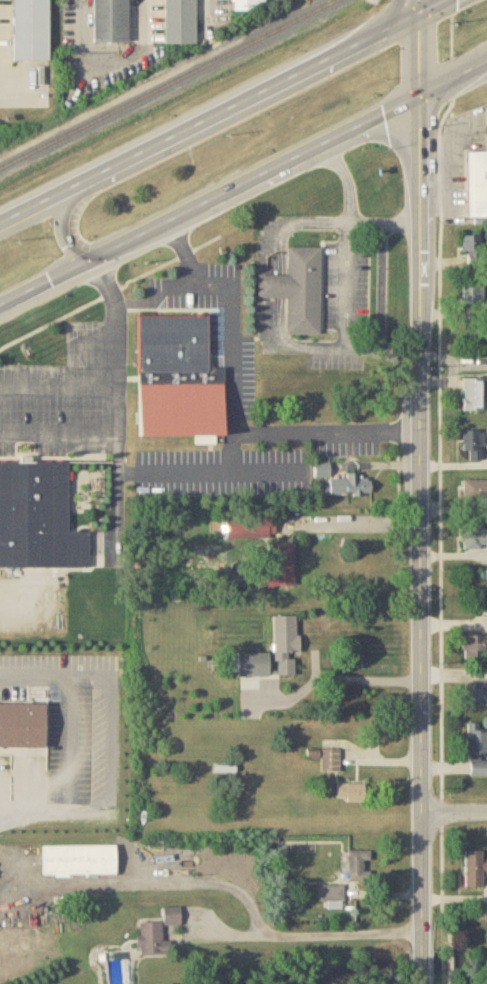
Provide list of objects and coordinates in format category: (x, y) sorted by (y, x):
road: (215, 2)
building: (236, 2)
road: (418, 6)
road: (430, 6)
parking lot: (220, 8)
traffic signals: (418, 12)
building: (178, 14)
road: (86, 16)
building: (111, 16)
road: (145, 16)
building: (32, 26)
road: (417, 52)
parking lot: (23, 68)
road: (452, 75)
road: (20, 78)
railway: (167, 83)
traffic signals: (417, 93)
road: (209, 116)
road: (347, 177)
building: (477, 185)
road: (208, 197)
road: (73, 204)
road: (403, 211)
road: (305, 217)
road: (183, 248)
building: (472, 249)
parking lot: (199, 282)
building: (294, 283)
parking lot: (348, 283)
road: (112, 290)
building: (473, 294)
road: (348, 345)
parking lot: (335, 356)
parking lot: (247, 359)
building: (177, 369)
road: (85, 385)
parking lot: (69, 392)
building: (475, 394)
road: (234, 416)
road: (408, 424)
road: (79, 428)
parking lot: (347, 442)
building: (475, 446)
road: (249, 463)
road: (191, 465)
parking lot: (221, 466)
building: (352, 485)
building: (475, 490)
building: (39, 511)
road: (356, 523)
road: (419, 523)
building: (251, 528)
building: (475, 539)
building: (281, 568)
building: (9, 605)
building: (285, 645)
building: (475, 647)
road: (61, 662)
building: (254, 665)
road: (345, 679)
building: (475, 695)
building: (25, 718)
road: (74, 727)
parking lot: (74, 733)
building: (477, 750)
building: (330, 760)
building: (352, 793)
road: (454, 813)
building: (79, 860)
building: (358, 862)
building: (475, 868)
building: (331, 893)
road: (450, 899)
building: (157, 931)
road: (303, 932)
road: (423, 965)
road: (423, 980)

